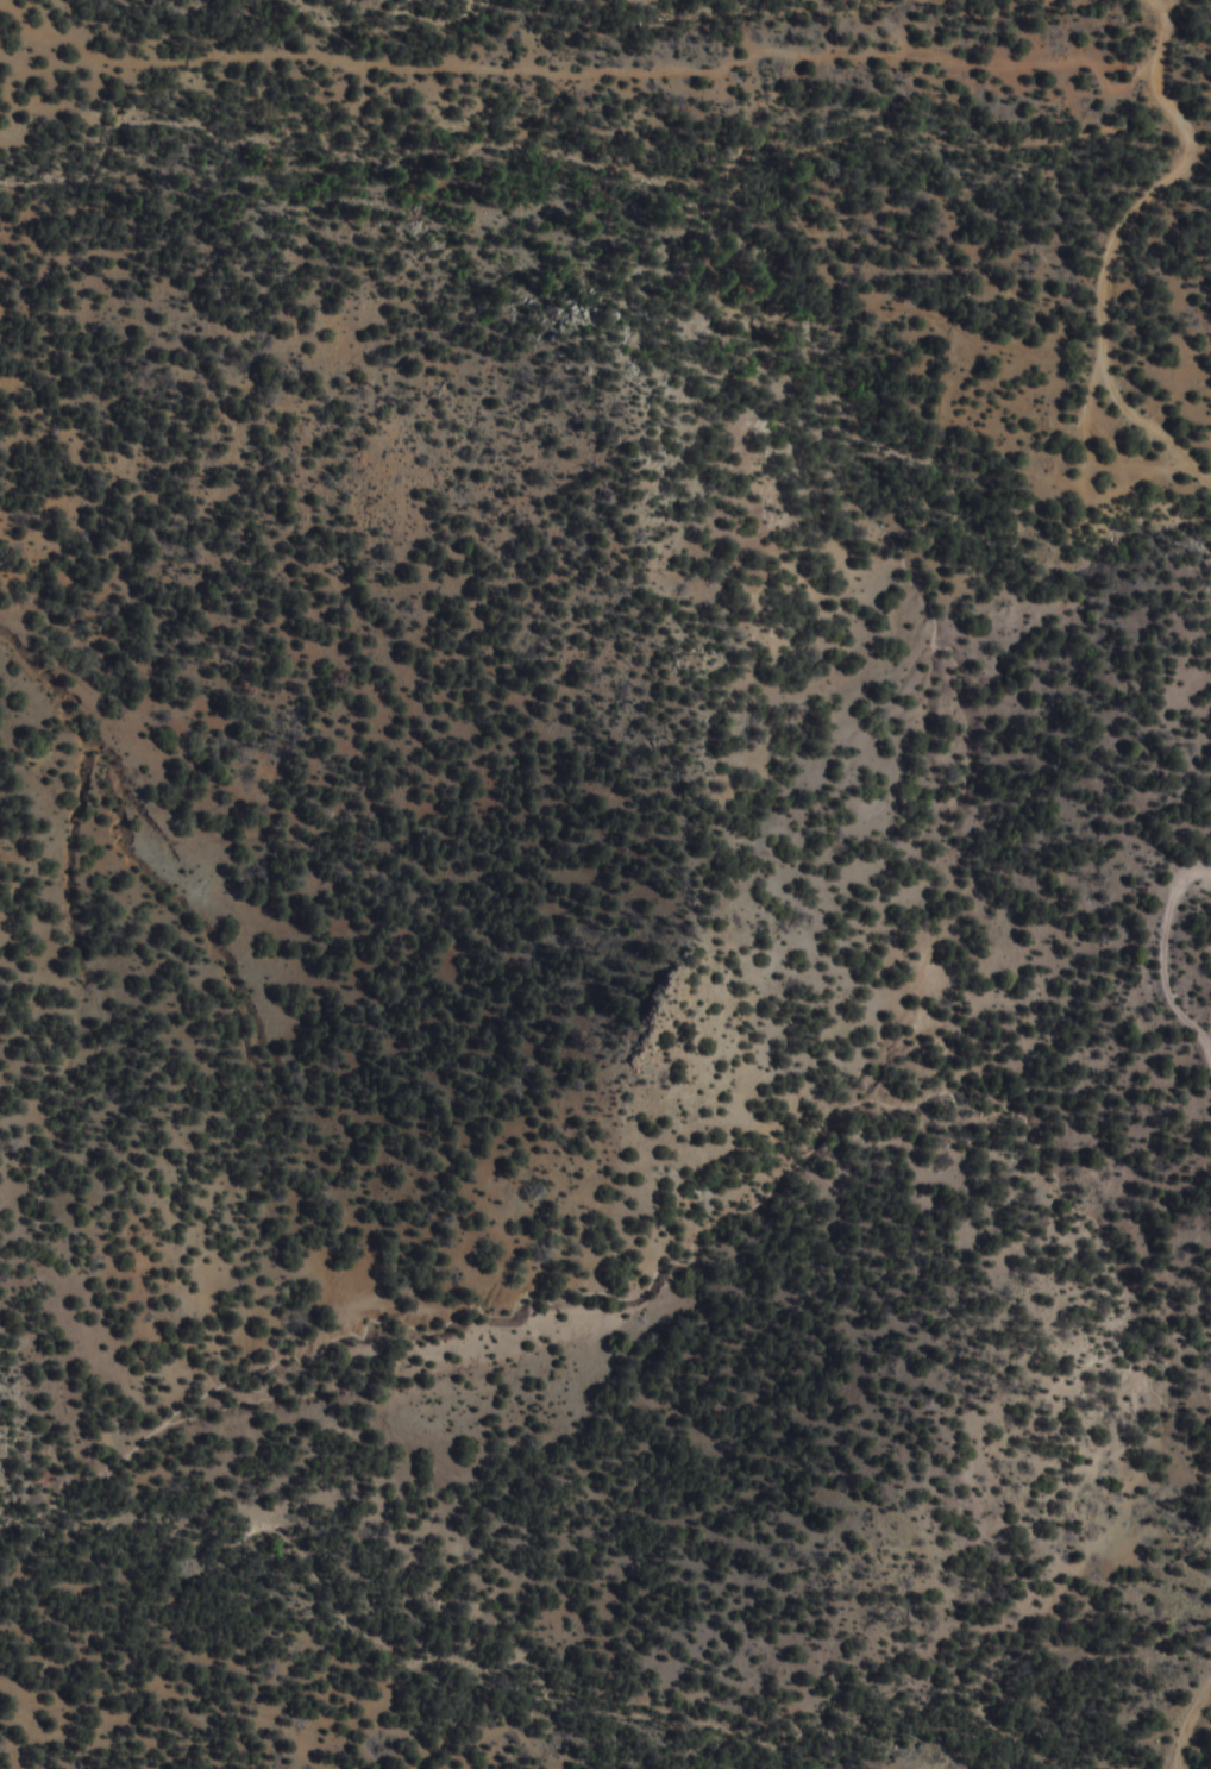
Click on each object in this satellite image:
road: (576, 79)
road: (1116, 239)
road: (1163, 955)
road: (1174, 1685)

